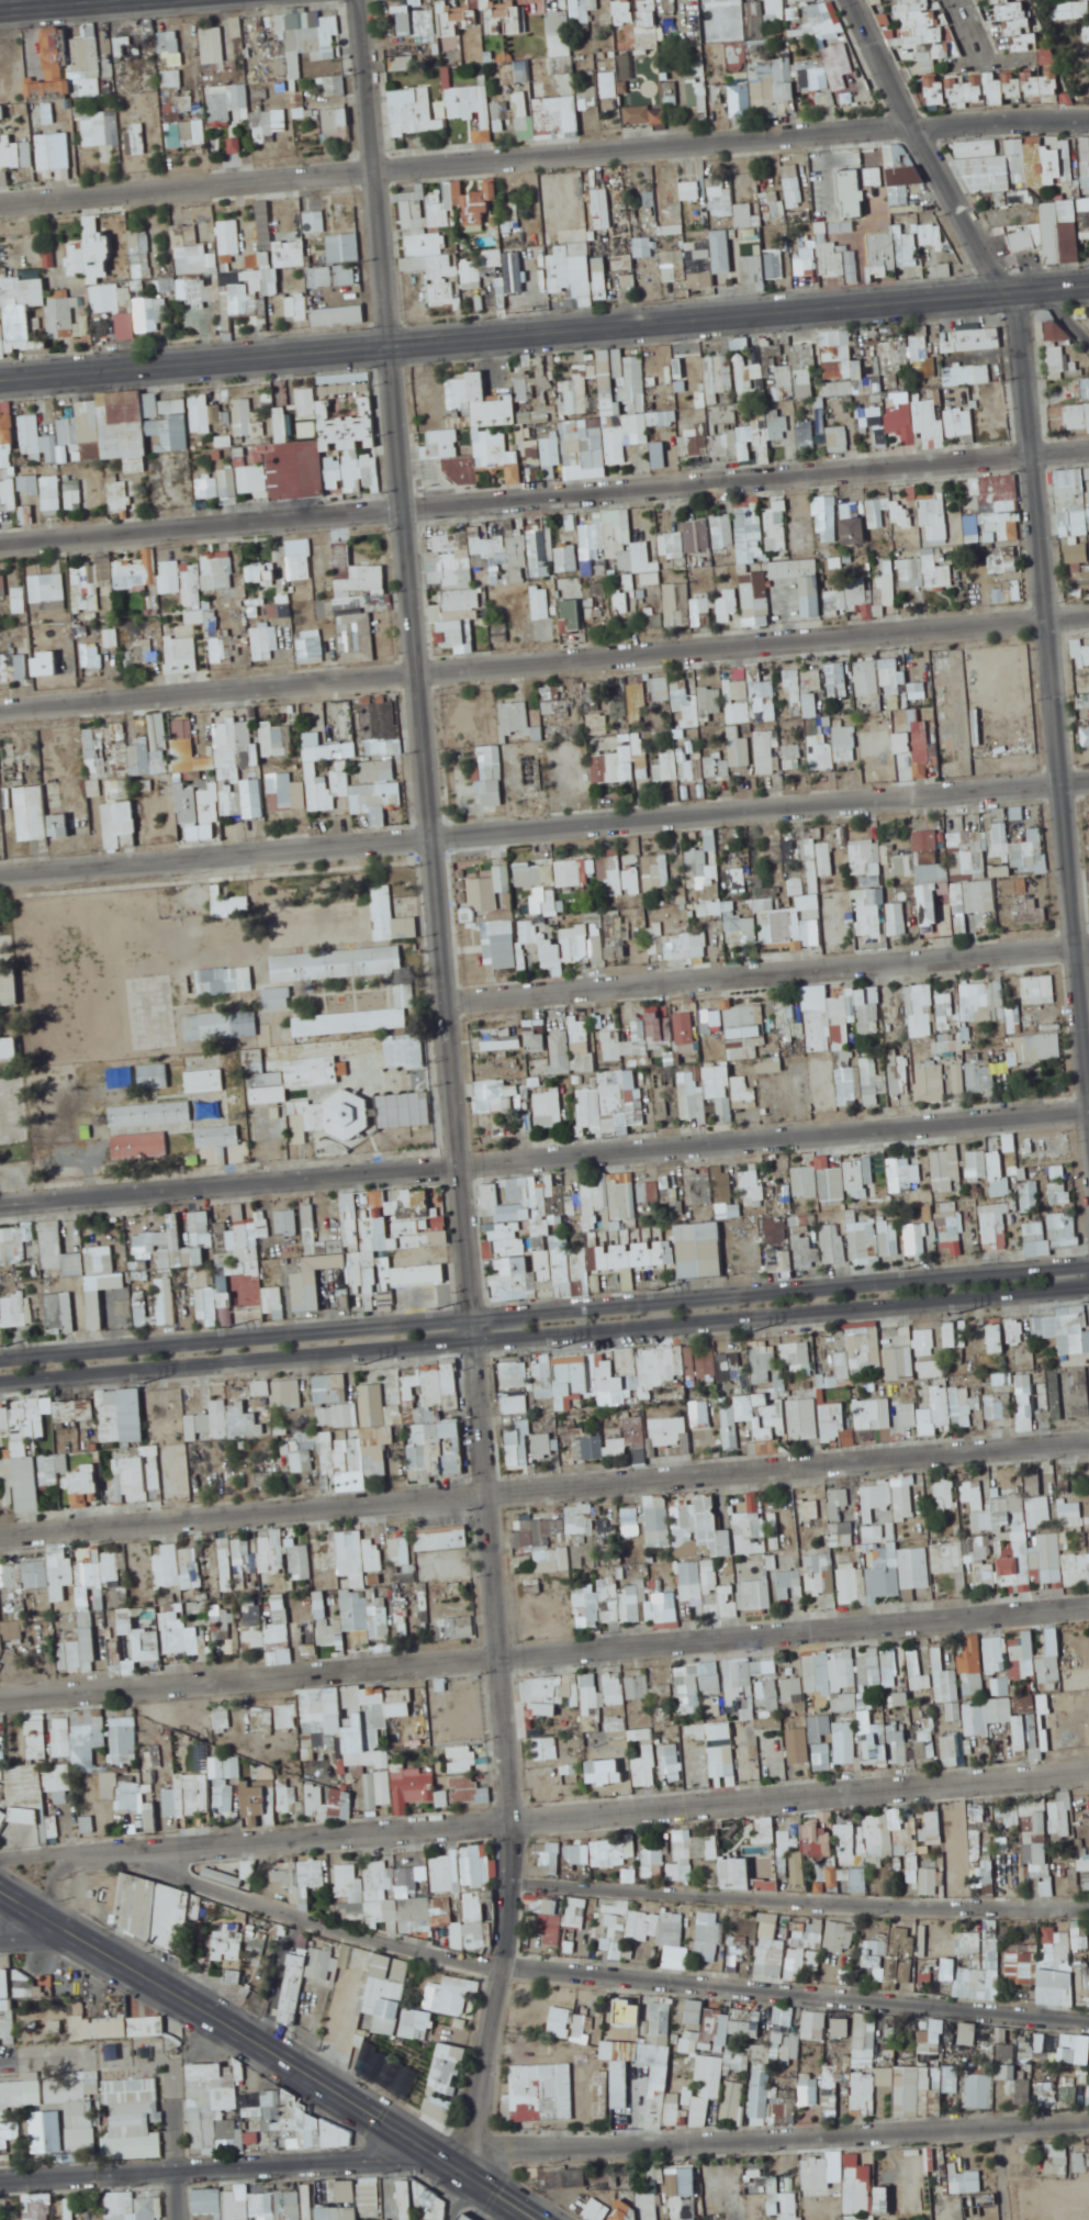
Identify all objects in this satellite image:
road: (143, 0)
building: (1000, 1)
building: (719, 3)
building: (775, 3)
road: (42, 4)
road: (77, 7)
building: (1069, 10)
building: (453, 16)
building: (417, 21)
building: (648, 24)
road: (969, 31)
building: (1087, 32)
building: (212, 45)
road: (987, 62)
building: (401, 63)
building: (52, 78)
building: (997, 83)
building: (609, 85)
building: (335, 86)
building: (776, 91)
building: (587, 98)
building: (437, 109)
building: (638, 115)
building: (268, 125)
building: (335, 125)
building: (176, 135)
road: (929, 146)
building: (49, 150)
building: (10, 154)
road: (543, 155)
building: (694, 190)
building: (745, 201)
building: (440, 215)
building: (1064, 225)
building: (229, 237)
building: (719, 248)
building: (139, 253)
building: (290, 253)
building: (622, 263)
building: (337, 264)
building: (671, 264)
building: (699, 264)
building: (753, 268)
building: (559, 269)
building: (600, 278)
road: (1051, 288)
building: (63, 314)
road: (1064, 314)
building: (147, 315)
building: (338, 316)
building: (126, 325)
road: (505, 334)
building: (972, 339)
building: (925, 368)
building: (968, 375)
building: (608, 379)
building: (751, 381)
building: (785, 382)
building: (1085, 388)
building: (839, 389)
building: (493, 410)
building: (204, 413)
building: (243, 416)
building: (901, 422)
building: (959, 422)
building: (639, 424)
building: (122, 427)
building: (307, 430)
building: (31, 434)
building: (806, 435)
building: (441, 443)
building: (616, 445)
building: (691, 445)
building: (5, 448)
building: (324, 451)
building: (551, 451)
building: (534, 460)
building: (460, 470)
building: (234, 481)
road: (544, 495)
building: (1073, 512)
building: (876, 513)
building: (901, 514)
building: (970, 524)
building: (597, 527)
building: (939, 535)
building: (854, 537)
building: (716, 539)
building: (777, 542)
building: (672, 545)
building: (751, 547)
building: (637, 557)
building: (441, 560)
building: (217, 570)
building: (256, 572)
building: (136, 573)
building: (169, 577)
building: (357, 577)
building: (801, 582)
building: (192, 585)
building: (755, 593)
building: (850, 595)
building: (728, 601)
building: (541, 603)
building: (674, 605)
building: (459, 613)
building: (202, 615)
building: (570, 615)
building: (654, 617)
building: (1080, 654)
building: (182, 655)
building: (141, 657)
road: (543, 658)
building: (14, 669)
building: (755, 672)
building: (793, 674)
road: (1052, 682)
building: (661, 688)
building: (704, 699)
building: (550, 700)
building: (740, 701)
building: (805, 704)
building: (598, 723)
building: (517, 724)
building: (159, 732)
building: (919, 734)
building: (229, 735)
building: (739, 748)
building: (188, 749)
building: (97, 750)
building: (765, 752)
building: (793, 759)
building: (680, 765)
building: (611, 767)
building: (720, 769)
building: (378, 770)
building: (491, 776)
building: (374, 795)
building: (38, 815)
building: (199, 816)
road: (543, 824)
road: (767, 968)
road: (454, 1083)
road: (544, 1156)
road: (543, 1314)
road: (783, 1316)
road: (439, 1347)
road: (201, 1368)
road: (543, 1486)
road: (543, 1650)
road: (274, 2050)
road: (255, 2062)

